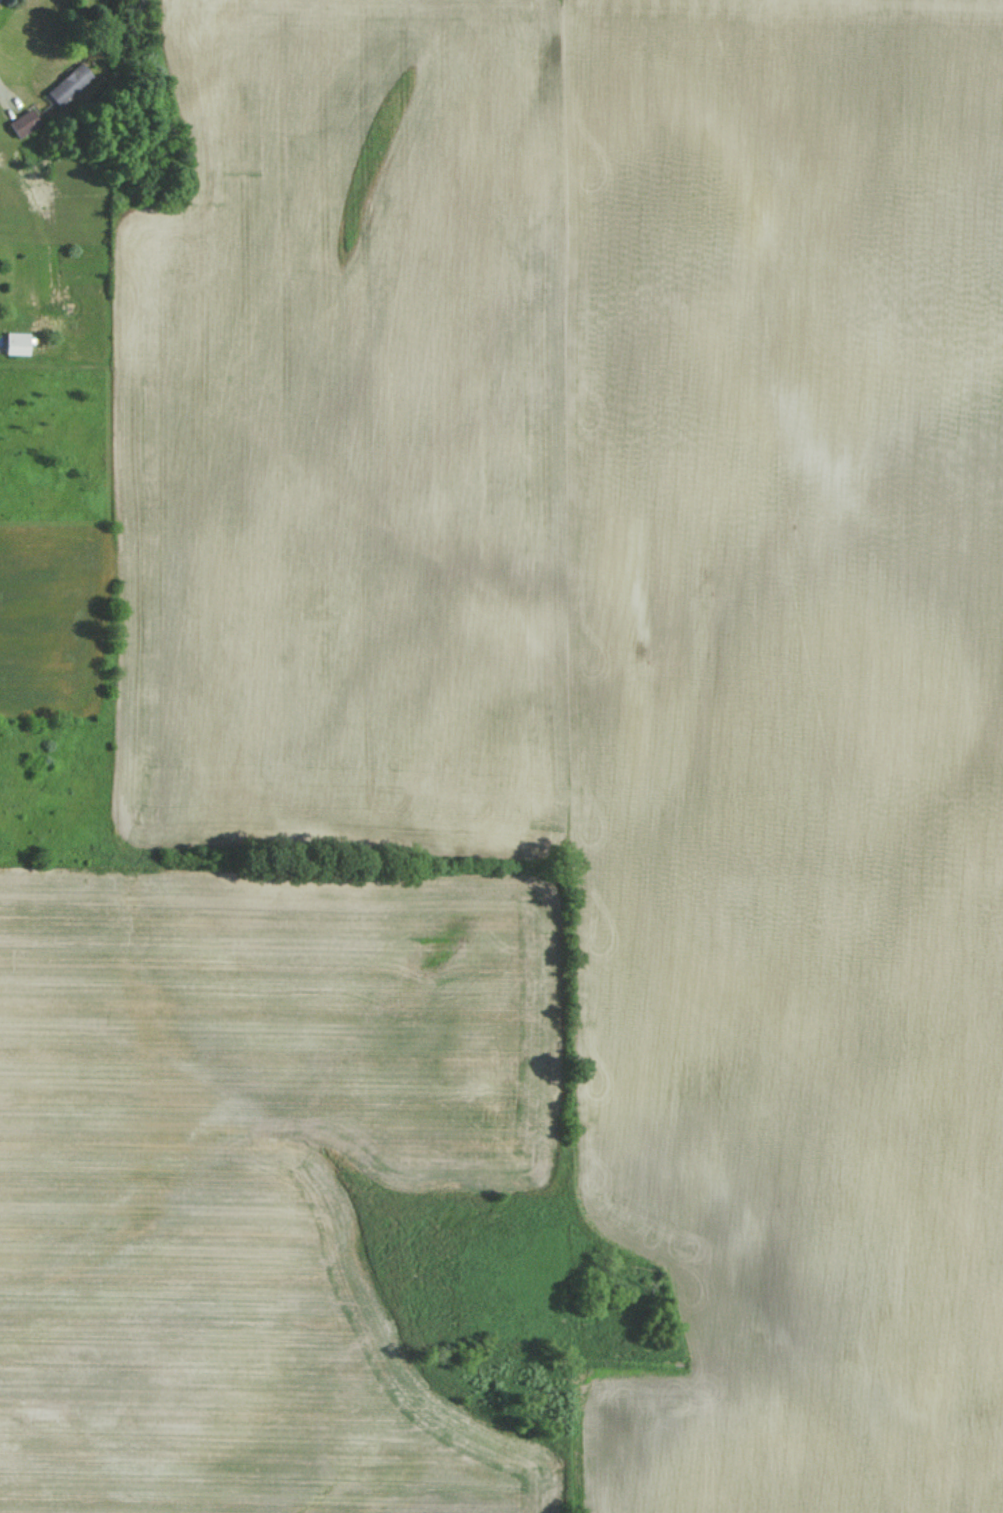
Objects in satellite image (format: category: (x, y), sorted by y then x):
building: (70, 84)
road: (3, 96)
building: (25, 122)
building: (17, 342)

